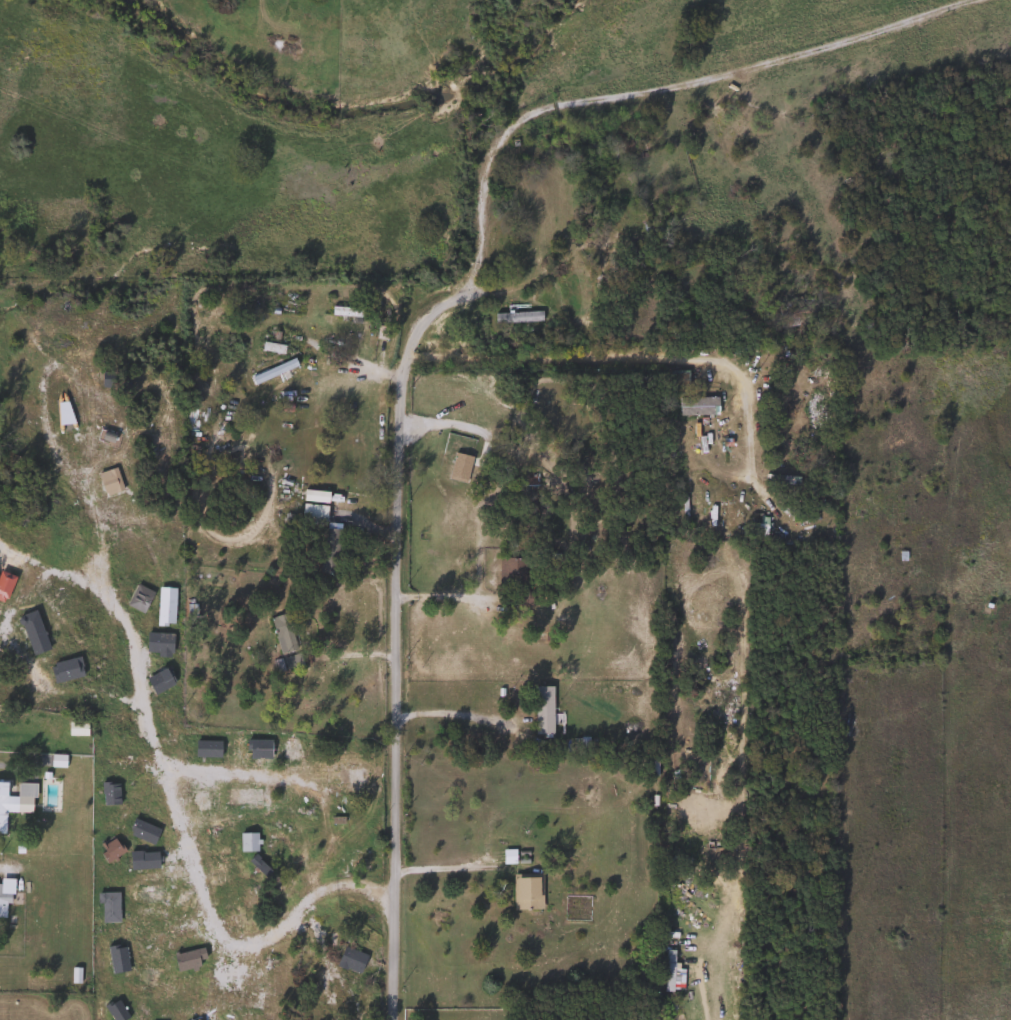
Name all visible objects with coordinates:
building: (348, 312)
building: (516, 317)
building: (285, 351)
road: (627, 356)
building: (677, 383)
building: (696, 406)
building: (502, 457)
road: (398, 471)
building: (310, 513)
building: (757, 530)
road: (56, 575)
road: (445, 597)
building: (282, 634)
building: (285, 663)
road: (20, 672)
building: (190, 703)
building: (541, 711)
road: (450, 713)
building: (76, 729)
building: (55, 762)
road: (5, 768)
road: (239, 773)
road: (168, 798)
building: (15, 800)
building: (270, 842)
road: (445, 867)
building: (524, 892)
building: (4, 893)
building: (667, 971)
building: (33, 982)
road: (700, 993)

